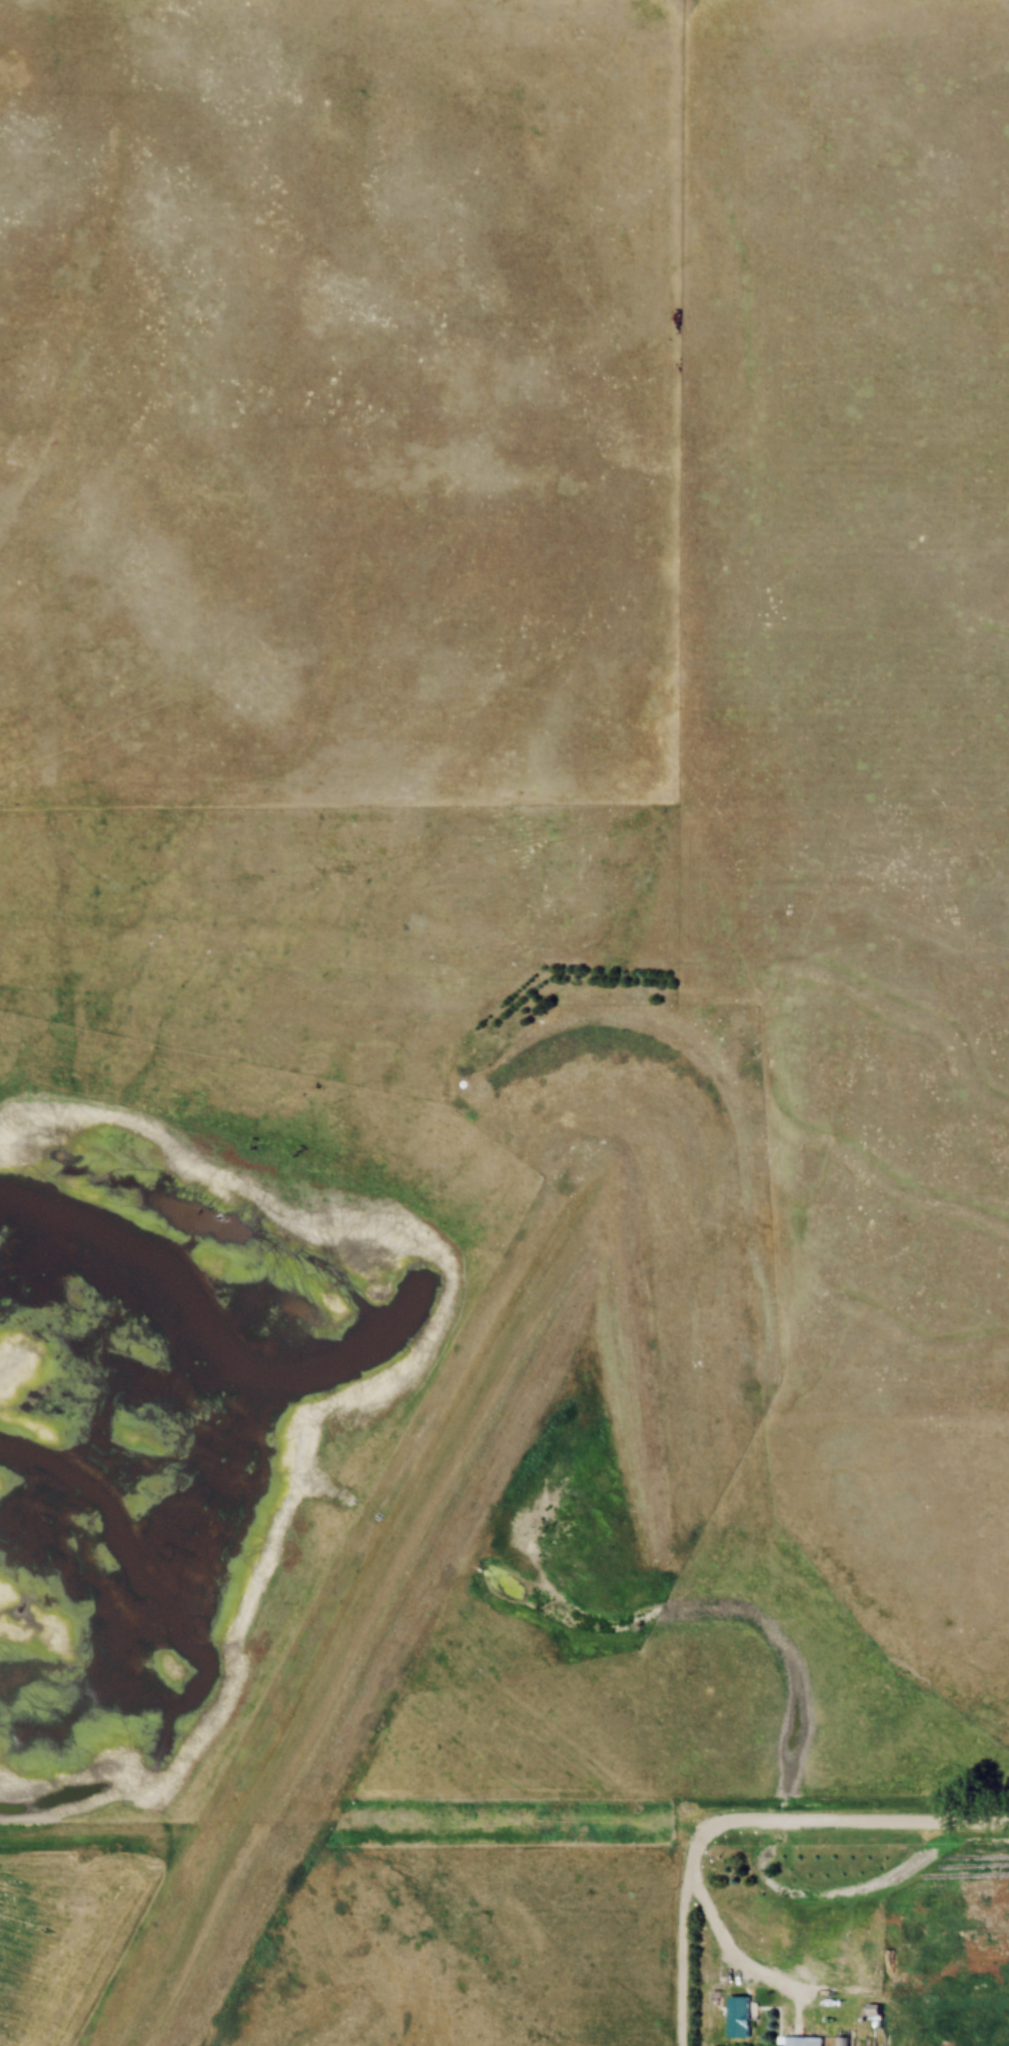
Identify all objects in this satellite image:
road: (830, 1824)
road: (726, 1955)
road: (677, 1960)
building: (739, 2018)
building: (801, 2041)

